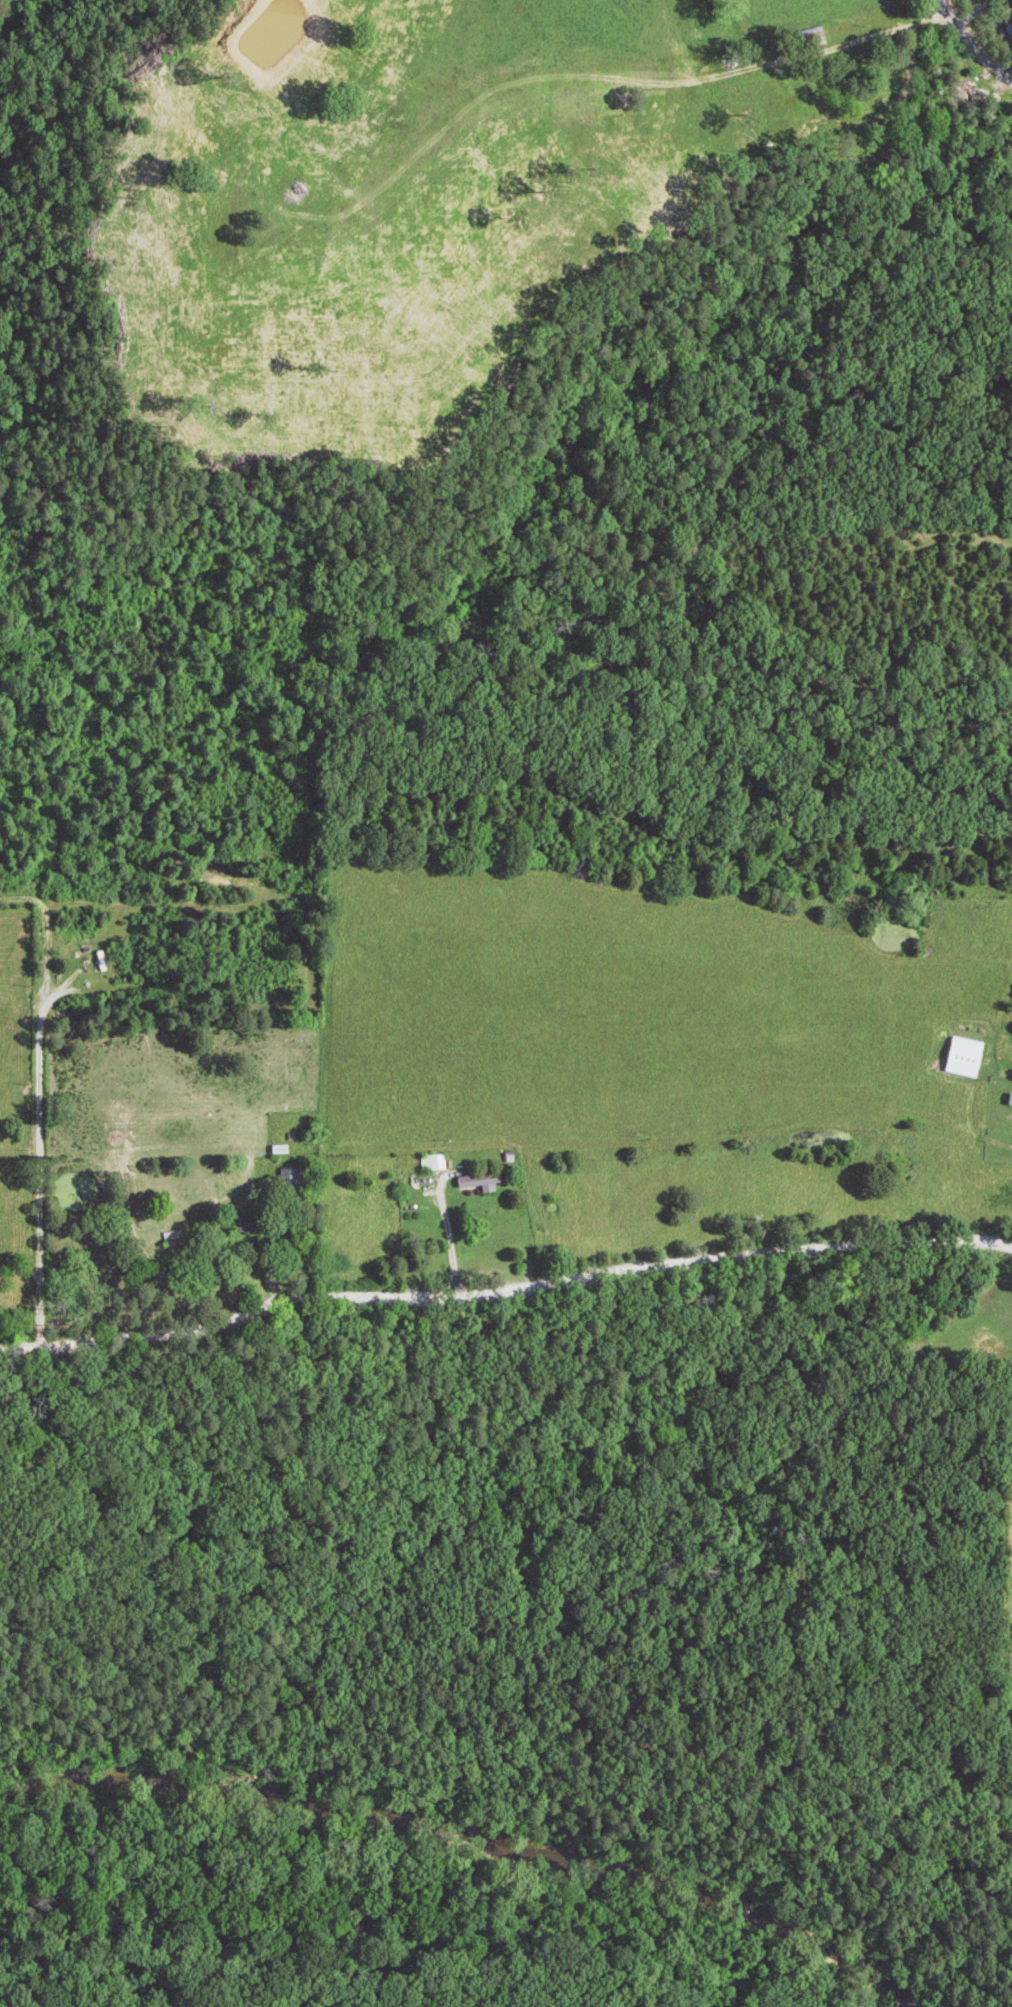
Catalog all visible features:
road: (973, 44)
building: (976, 1056)
road: (1000, 1087)
road: (450, 1239)
road: (271, 1249)
road: (504, 1292)

